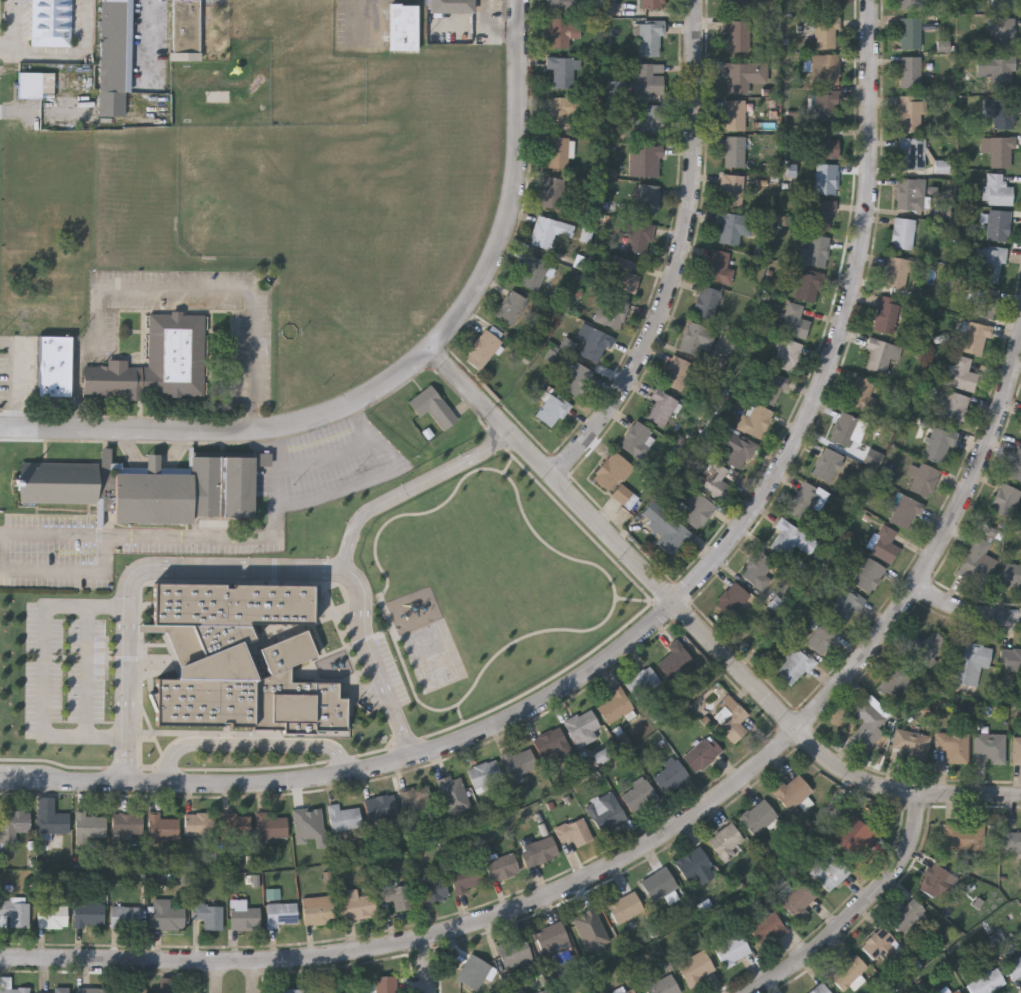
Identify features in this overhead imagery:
building: (949, 1)
building: (828, 3)
building: (912, 3)
building: (557, 4)
building: (1003, 4)
building: (452, 6)
building: (635, 6)
building: (737, 6)
building: (404, 21)
building: (51, 23)
road: (16, 28)
building: (185, 30)
building: (558, 31)
building: (827, 31)
building: (909, 32)
building: (1003, 32)
building: (737, 33)
road: (149, 36)
building: (651, 37)
building: (115, 46)
road: (67, 56)
building: (825, 68)
building: (909, 70)
building: (997, 71)
building: (563, 72)
building: (743, 75)
building: (648, 78)
building: (29, 86)
building: (826, 104)
building: (561, 110)
building: (911, 113)
building: (1003, 113)
building: (734, 114)
building: (646, 119)
building: (822, 143)
building: (557, 148)
building: (733, 150)
building: (1001, 151)
building: (913, 152)
building: (644, 160)
building: (826, 178)
building: (731, 189)
building: (997, 189)
building: (555, 192)
building: (910, 193)
building: (645, 198)
building: (820, 214)
building: (997, 223)
building: (733, 226)
building: (544, 231)
building: (902, 232)
building: (639, 237)
building: (814, 250)
road: (681, 256)
building: (989, 262)
building: (718, 266)
building: (533, 270)
building: (897, 272)
building: (623, 274)
building: (808, 284)
road: (177, 293)
building: (706, 301)
building: (981, 301)
building: (511, 306)
building: (612, 311)
building: (887, 314)
building: (795, 319)
building: (974, 337)
building: (696, 338)
building: (724, 343)
building: (595, 345)
building: (483, 347)
building: (786, 353)
building: (879, 355)
building: (155, 363)
building: (53, 367)
building: (678, 372)
building: (961, 372)
road: (401, 374)
road: (18, 377)
building: (576, 379)
building: (770, 386)
building: (861, 392)
building: (953, 406)
building: (660, 407)
building: (433, 409)
building: (551, 409)
building: (753, 419)
building: (846, 428)
building: (637, 438)
building: (937, 443)
building: (735, 448)
road: (329, 459)
building: (827, 464)
building: (615, 476)
road: (378, 477)
building: (923, 477)
building: (715, 480)
road: (414, 488)
building: (146, 490)
building: (1005, 500)
building: (806, 501)
building: (903, 510)
building: (697, 511)
building: (666, 527)
road: (190, 536)
building: (791, 538)
building: (884, 543)
building: (392, 556)
building: (977, 560)
road: (236, 566)
building: (757, 569)
road: (54, 571)
building: (868, 574)
building: (1010, 574)
building: (402, 586)
building: (362, 588)
building: (732, 598)
building: (844, 606)
road: (965, 610)
road: (649, 624)
road: (699, 626)
building: (822, 637)
building: (927, 646)
building: (411, 651)
building: (674, 661)
building: (971, 663)
building: (1012, 664)
building: (793, 666)
road: (44, 672)
road: (87, 672)
building: (642, 682)
building: (892, 682)
building: (614, 705)
building: (730, 715)
building: (866, 723)
building: (582, 726)
building: (910, 741)
building: (552, 742)
road: (250, 745)
building: (953, 745)
building: (989, 747)
building: (1016, 751)
building: (702, 752)
building: (517, 761)
building: (484, 774)
building: (670, 775)
building: (791, 791)
building: (638, 794)
building: (415, 799)
building: (380, 806)
building: (605, 809)
building: (758, 816)
building: (343, 817)
building: (307, 818)
building: (52, 820)
building: (127, 822)
building: (13, 823)
building: (199, 823)
building: (234, 823)
building: (90, 824)
building: (271, 824)
building: (162, 826)
building: (574, 830)
building: (854, 833)
building: (964, 835)
building: (726, 840)
building: (1012, 840)
building: (539, 849)
road: (636, 852)
building: (692, 863)
building: (501, 866)
building: (829, 870)
building: (466, 877)
building: (936, 882)
building: (659, 883)
building: (431, 889)
building: (398, 895)
building: (797, 898)
building: (358, 904)
building: (624, 905)
building: (317, 908)
building: (14, 909)
road: (859, 909)
building: (281, 913)
building: (88, 914)
building: (208, 914)
building: (243, 914)
building: (52, 915)
building: (125, 915)
building: (908, 915)
building: (165, 917)
building: (767, 927)
building: (552, 939)
building: (877, 942)
building: (732, 949)
building: (514, 951)
road: (427, 963)
building: (695, 967)
building: (1014, 967)
building: (473, 971)
building: (849, 971)
road: (219, 977)
road: (256, 977)
building: (987, 981)
building: (661, 983)
building: (382, 984)
building: (14, 989)
building: (819, 989)
building: (90, 990)
building: (131, 990)
building: (173, 990)
building: (290, 990)
building: (631, 991)
building: (957, 991)
building: (53, 992)
building: (521, 992)

